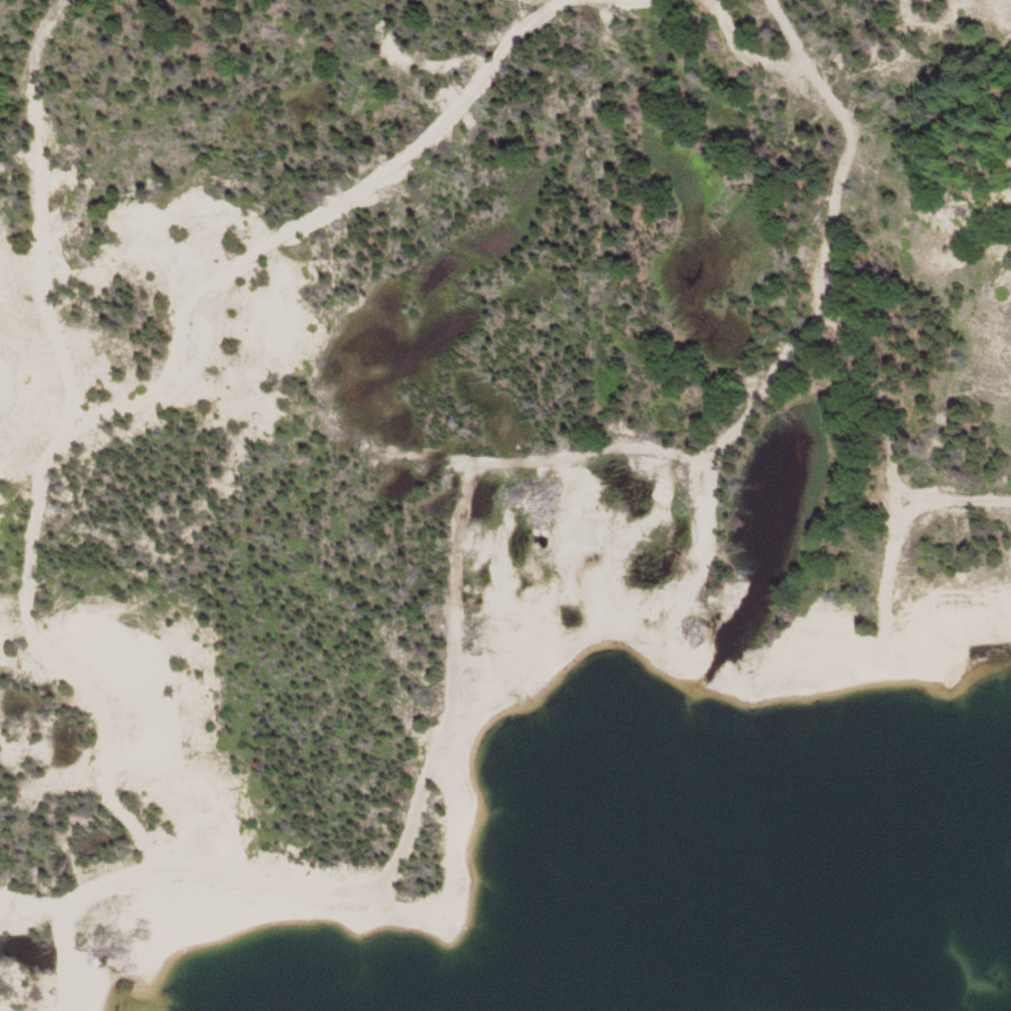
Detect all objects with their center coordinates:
park: (505, 505)

